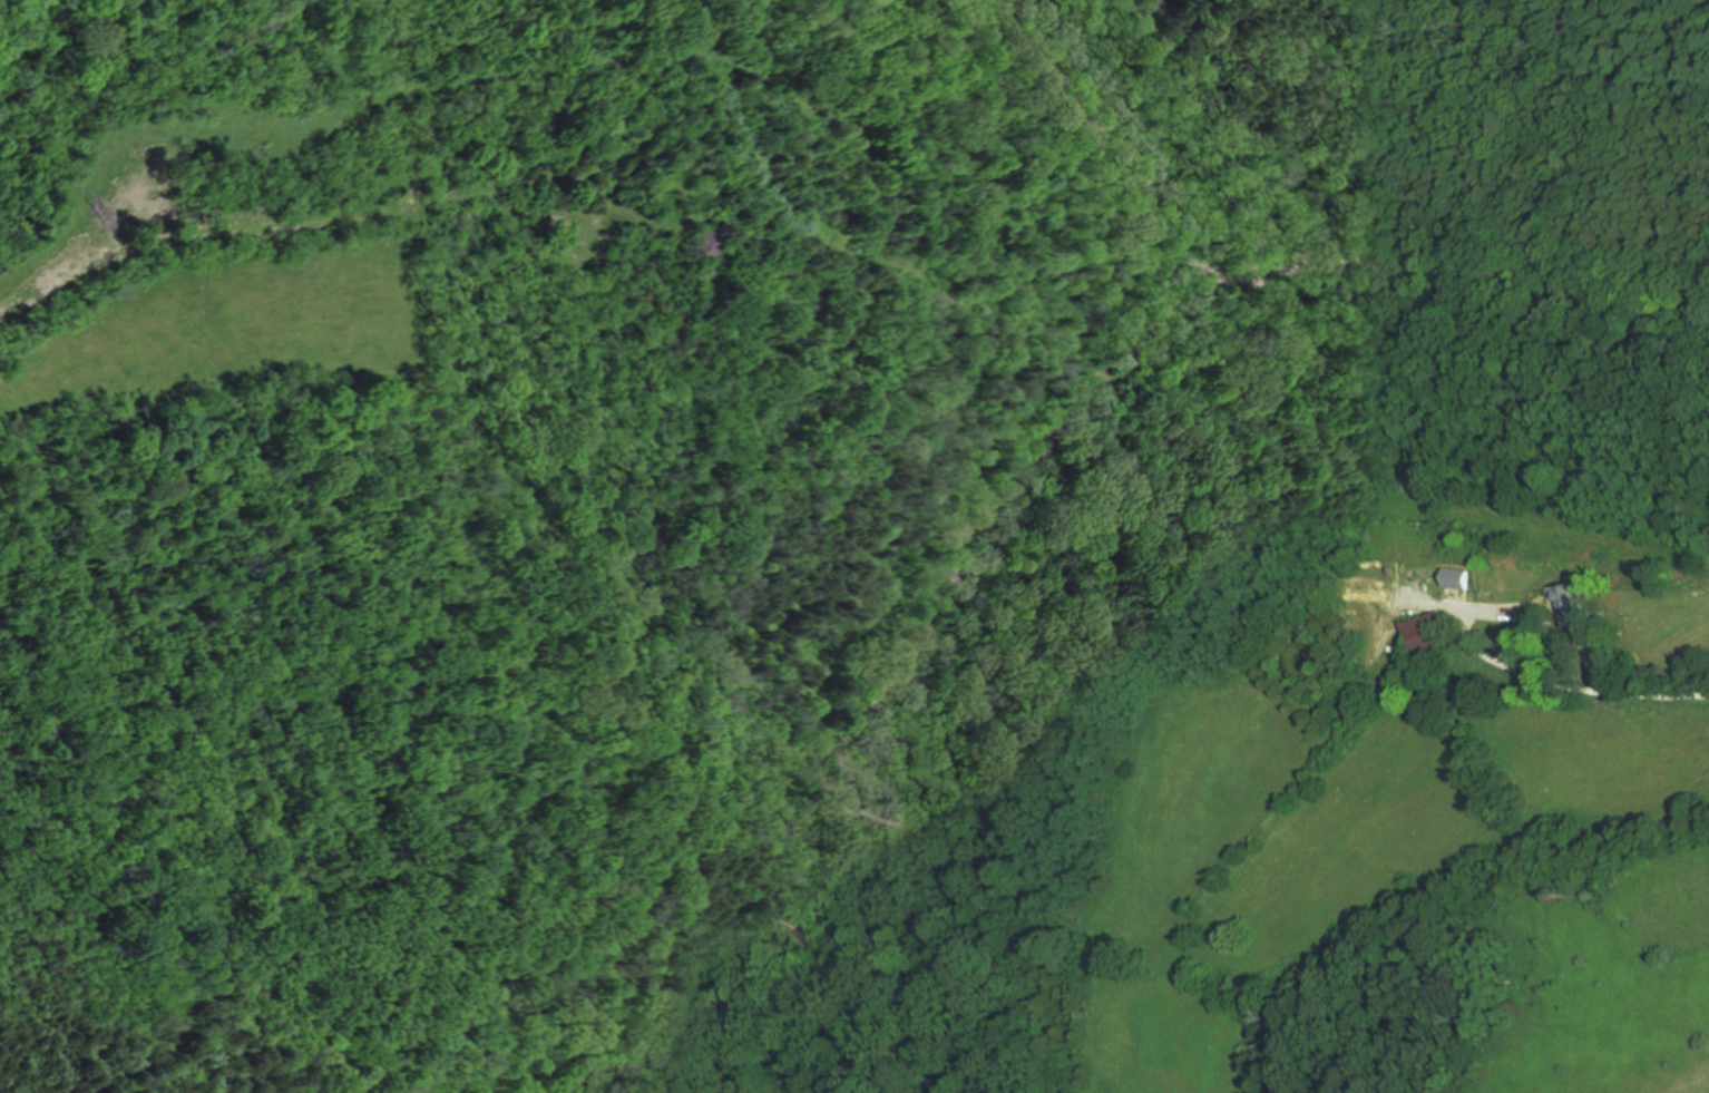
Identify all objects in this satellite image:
road: (372, 101)
road: (418, 207)
road: (189, 237)
building: (701, 240)
building: (1397, 570)
building: (1463, 577)
road: (1466, 598)
road: (1541, 601)
road: (1500, 604)
road: (1560, 606)
building: (1578, 606)
road: (1494, 613)
building: (1428, 636)
road: (1547, 677)

